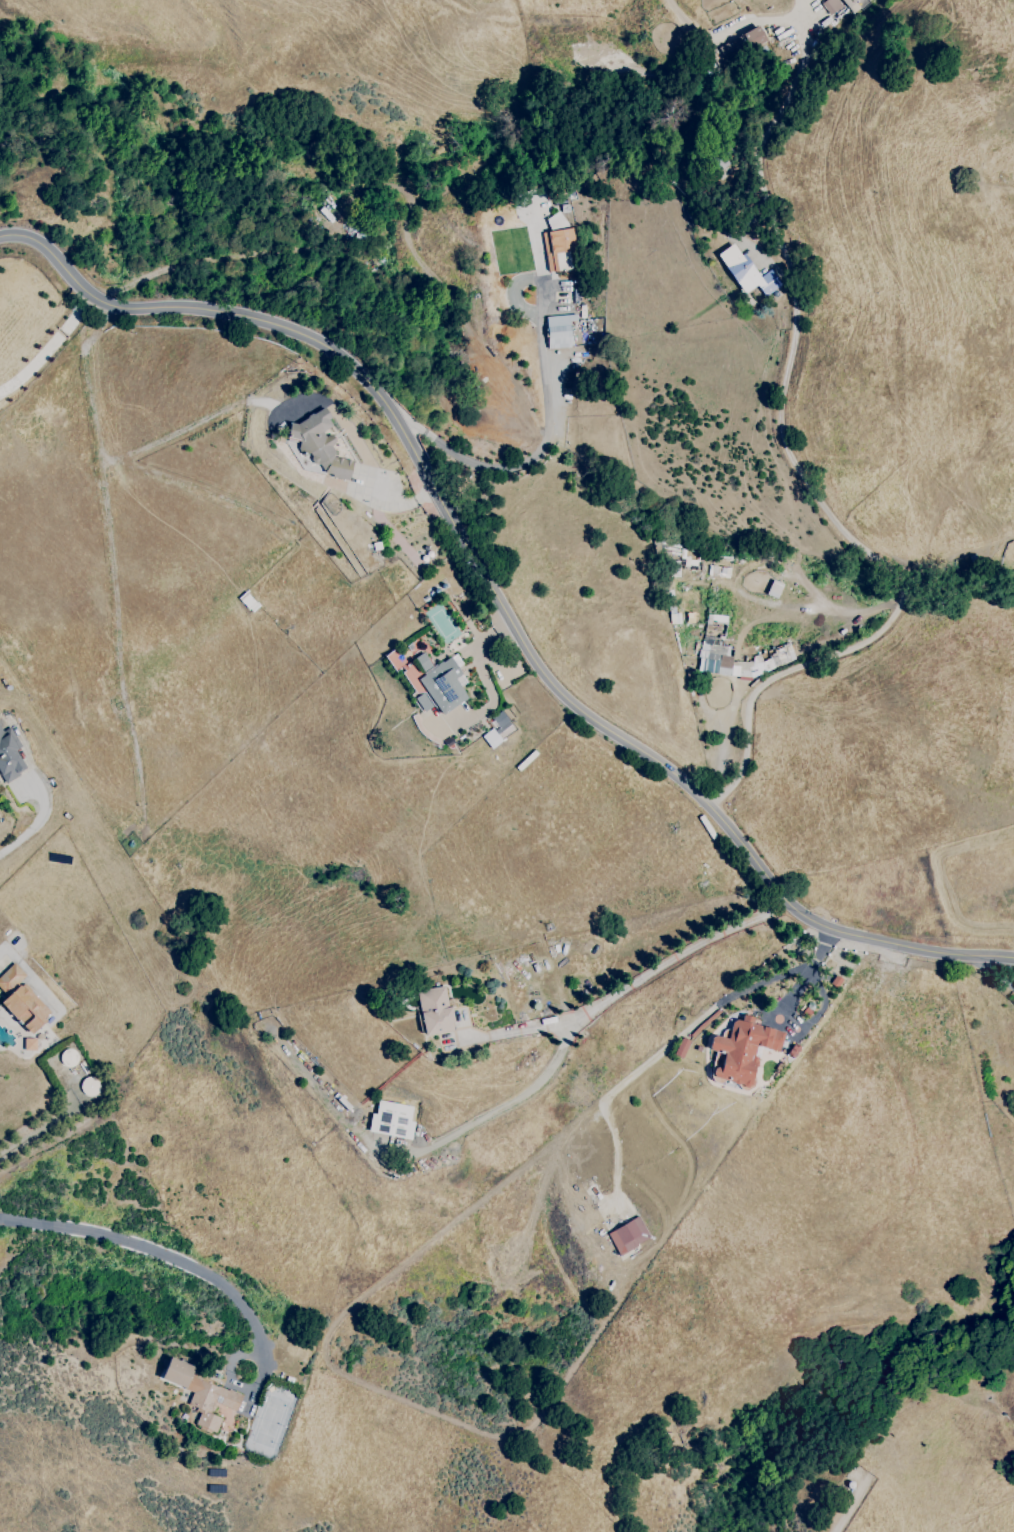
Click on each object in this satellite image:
building: (842, 5)
building: (752, 37)
building: (556, 221)
building: (560, 251)
road: (51, 253)
building: (745, 272)
building: (559, 331)
road: (49, 347)
building: (318, 444)
road: (541, 446)
road: (800, 466)
building: (691, 559)
road: (525, 646)
building: (707, 656)
building: (439, 685)
building: (495, 730)
road: (37, 824)
road: (994, 972)
road: (632, 985)
road: (39, 986)
building: (21, 1000)
building: (434, 1010)
road: (679, 1036)
building: (680, 1049)
building: (741, 1050)
road: (512, 1103)
building: (391, 1120)
road: (40, 1129)
building: (628, 1235)
road: (174, 1259)
building: (204, 1395)

